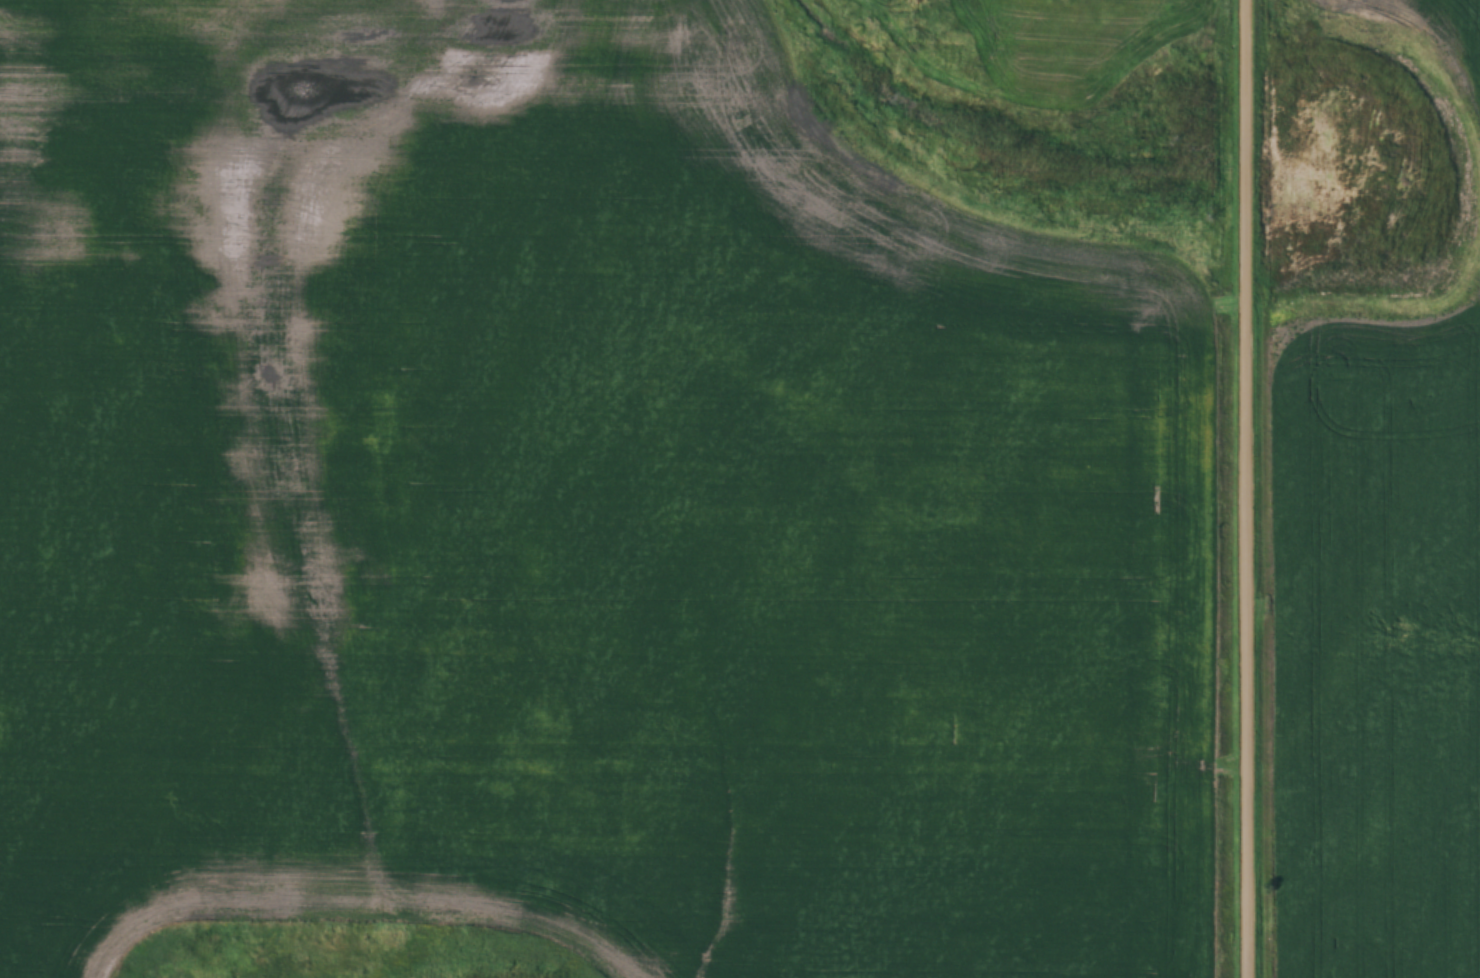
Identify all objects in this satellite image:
road: (1247, 489)

